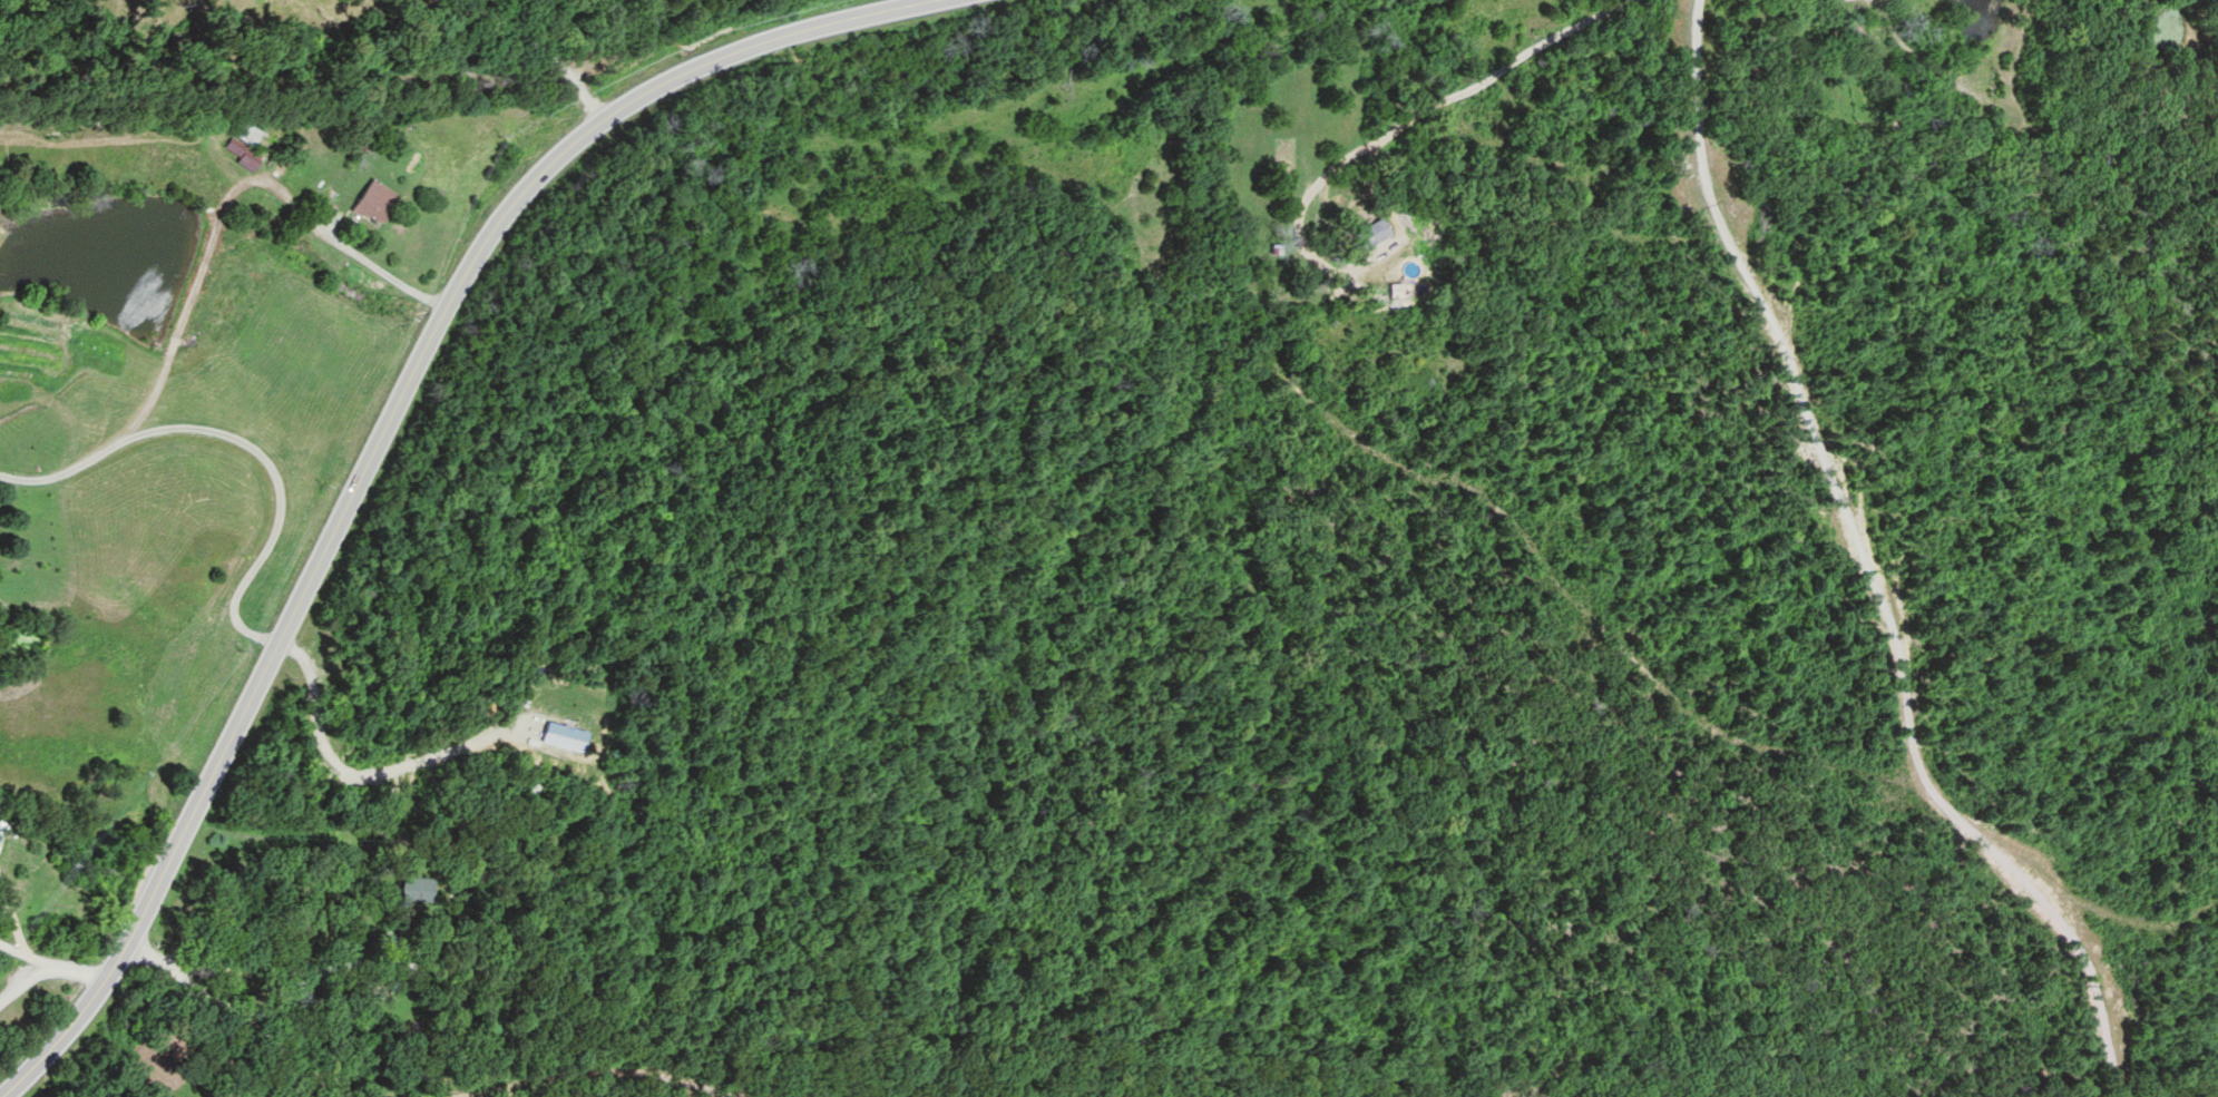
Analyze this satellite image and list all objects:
building: (244, 148)
building: (373, 202)
building: (1376, 232)
building: (1398, 291)
road: (383, 438)
building: (2, 830)
building: (418, 890)
road: (231, 1013)

